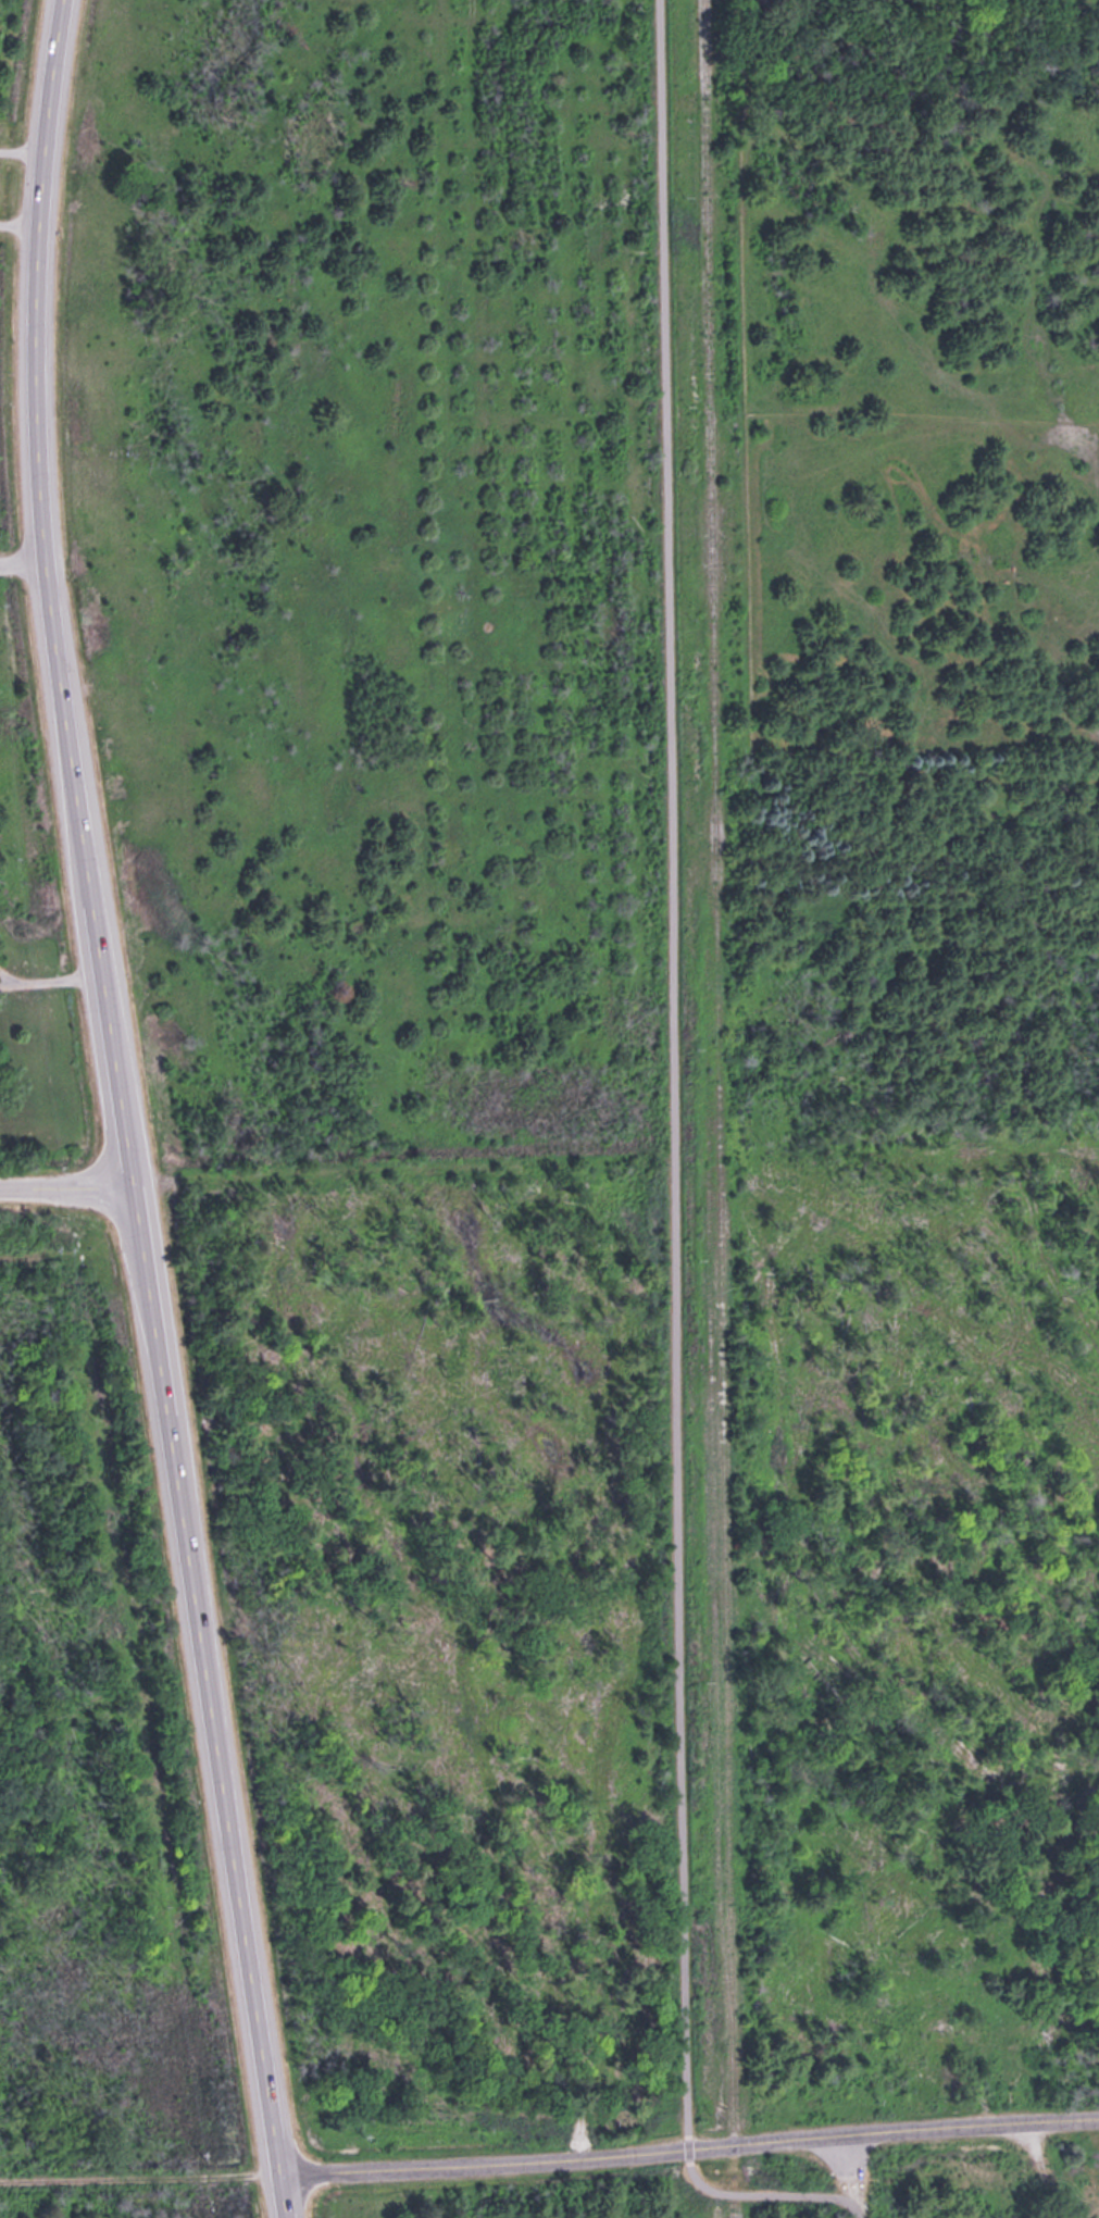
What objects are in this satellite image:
road: (50, 597)
road: (673, 1183)
road: (68, 1189)
road: (212, 1704)
road: (689, 2146)
road: (139, 2165)
road: (1029, 2170)

